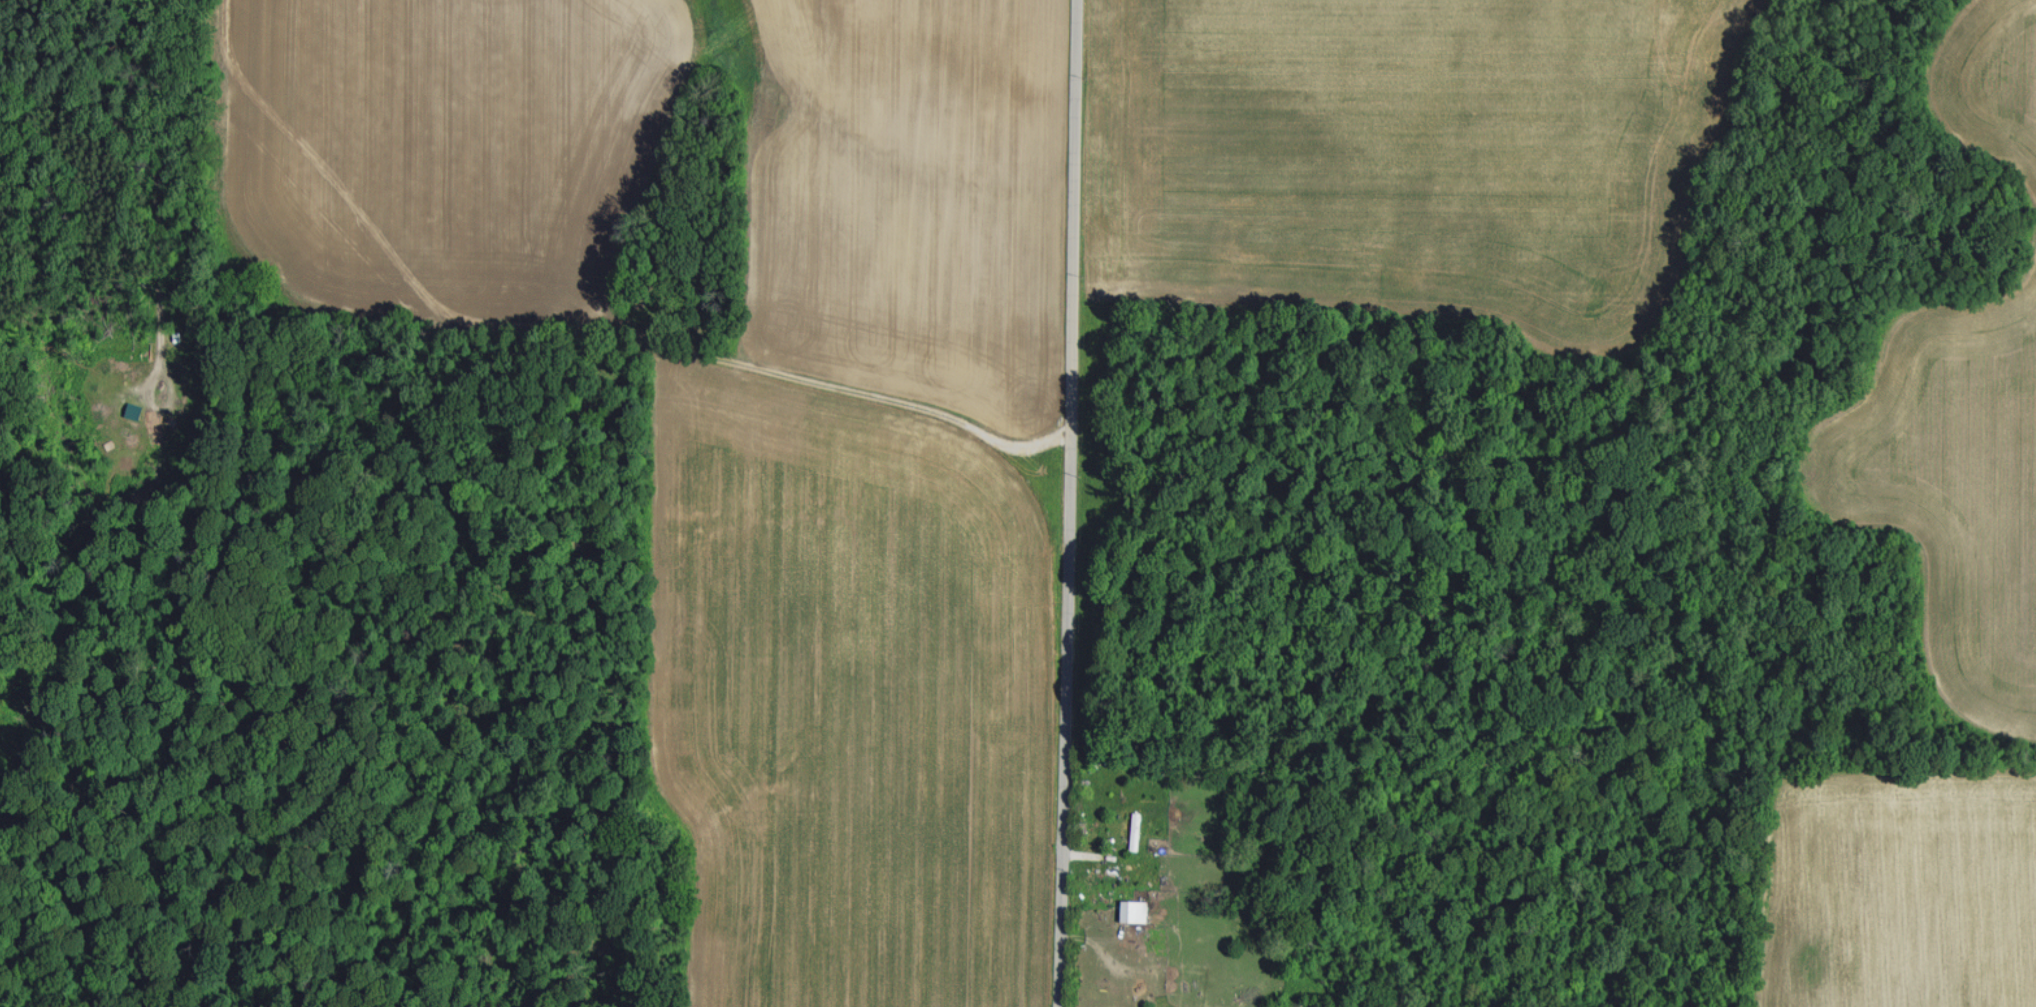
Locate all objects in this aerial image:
road: (25, 370)
building: (134, 410)
road: (1069, 503)
building: (1136, 831)
building: (1135, 910)

